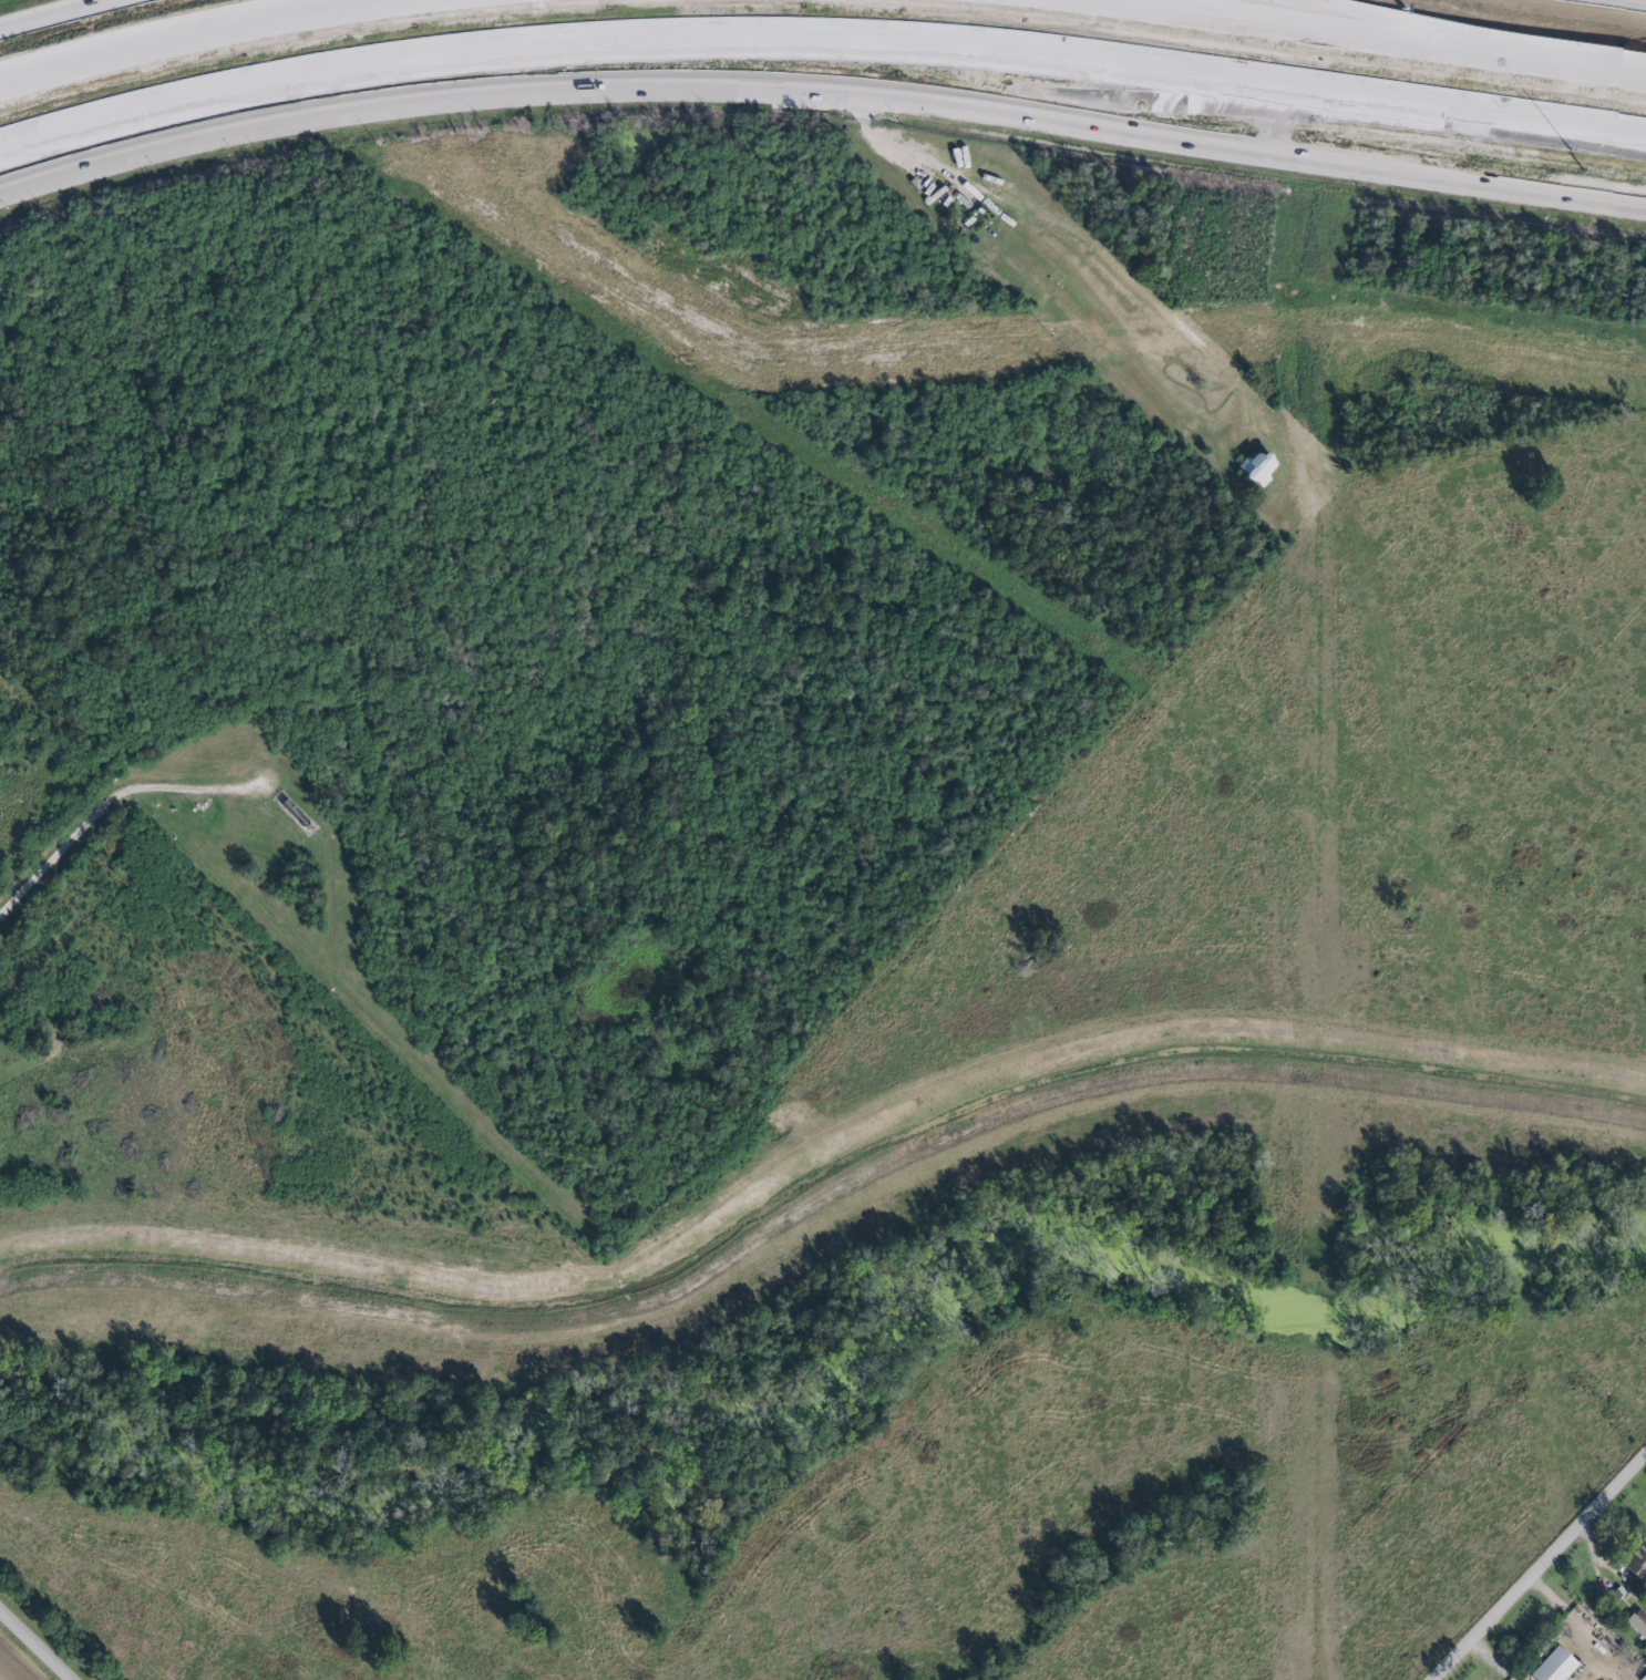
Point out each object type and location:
road: (1624, 2)
road: (56, 13)
road: (206, 34)
road: (1440, 34)
road: (1366, 38)
road: (820, 41)
road: (820, 95)
road: (1180, 105)
building: (1254, 470)
road: (106, 806)
road: (1535, 1563)
building: (1635, 1568)
building: (1637, 1624)
road: (34, 1646)
building: (1550, 1667)
building: (1643, 1677)

